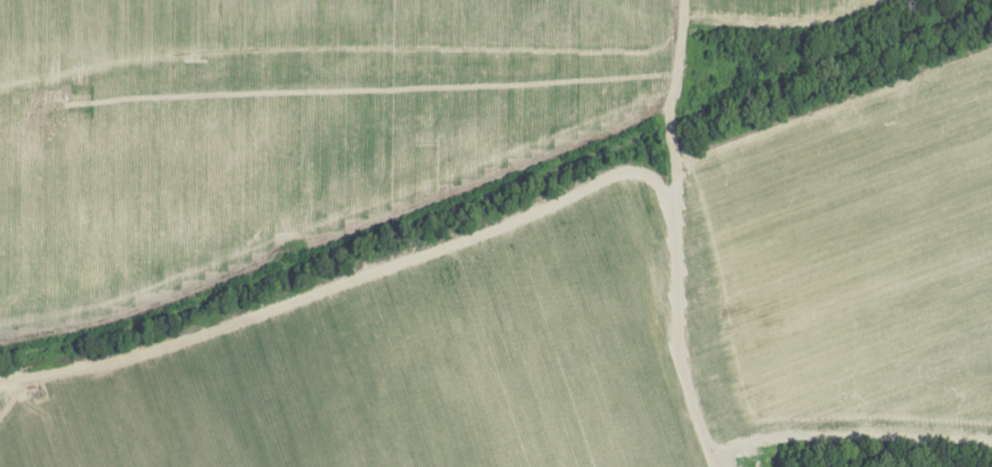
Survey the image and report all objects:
road: (675, 234)

